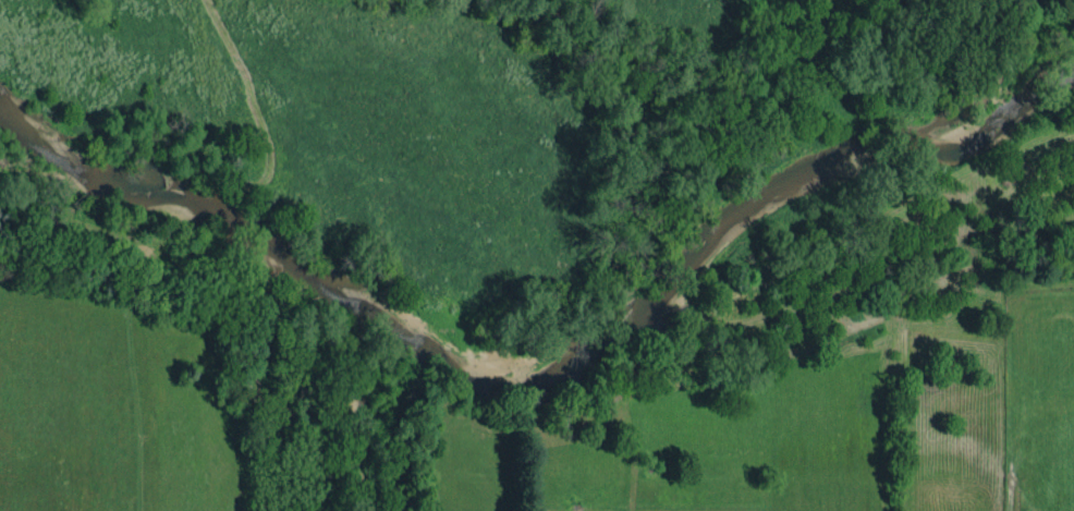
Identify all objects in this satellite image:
river: (542, 380)

